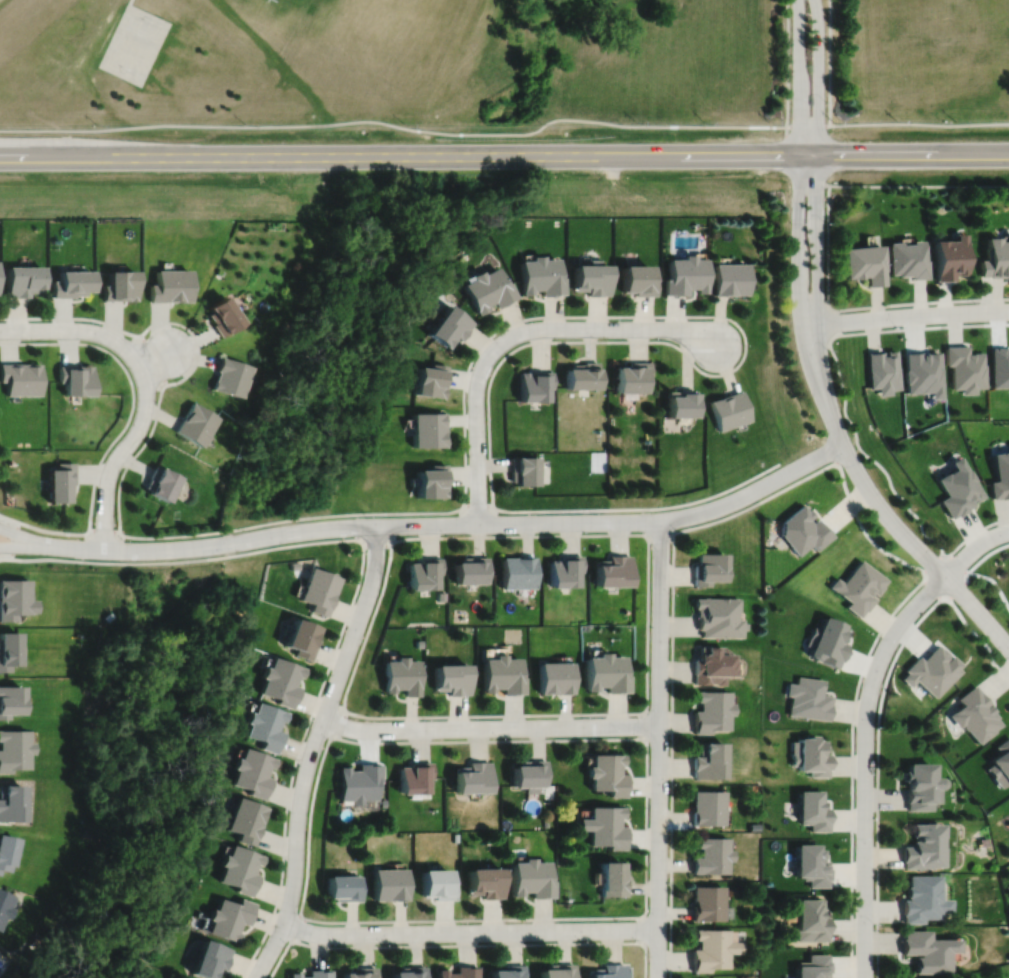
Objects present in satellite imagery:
road: (130, 1)
park: (320, 4)
park: (315, 8)
park: (134, 44)
road: (787, 62)
road: (829, 62)
park: (392, 63)
park: (919, 69)
road: (919, 123)
road: (394, 125)
road: (807, 125)
road: (504, 155)
road: (918, 185)
road: (818, 191)
road: (798, 193)
street lamp: (790, 217)
street lamp: (825, 221)
road: (828, 247)
building: (950, 257)
building: (907, 258)
building: (995, 258)
building: (865, 263)
building: (540, 275)
building: (685, 275)
building: (729, 278)
building: (589, 279)
building: (635, 280)
building: (24, 281)
building: (72, 283)
road: (864, 285)
building: (121, 286)
building: (171, 286)
building: (489, 288)
road: (919, 296)
road: (876, 300)
road: (918, 302)
street lamp: (975, 302)
road: (905, 315)
building: (223, 316)
street lamp: (612, 318)
street lamp: (525, 321)
street lamp: (93, 322)
building: (450, 323)
road: (830, 323)
street lamp: (898, 325)
road: (919, 326)
street lamp: (185, 330)
road: (88, 331)
road: (515, 335)
street lamp: (743, 344)
street lamp: (828, 349)
road: (151, 359)
street lamp: (126, 365)
building: (965, 369)
building: (884, 371)
building: (924, 373)
road: (719, 374)
building: (230, 376)
building: (582, 376)
building: (630, 377)
building: (430, 378)
building: (21, 379)
building: (76, 380)
building: (536, 384)
building: (681, 404)
road: (156, 406)
building: (729, 410)
building: (196, 422)
building: (428, 428)
road: (121, 430)
road: (125, 446)
street lamp: (467, 452)
road: (847, 454)
road: (870, 458)
street lamp: (843, 466)
building: (525, 469)
street lamp: (767, 473)
building: (1000, 476)
building: (431, 479)
building: (61, 480)
building: (159, 481)
building: (958, 488)
road: (477, 507)
street lamp: (592, 512)
street lamp: (367, 516)
road: (458, 524)
street lamp: (996, 525)
road: (896, 527)
road: (104, 528)
street lamp: (676, 529)
building: (803, 529)
road: (977, 531)
road: (865, 532)
street lamp: (447, 534)
road: (661, 534)
road: (29, 537)
road: (15, 539)
street lamp: (124, 539)
road: (378, 543)
road: (29, 546)
road: (973, 548)
street lamp: (222, 553)
street lamp: (938, 554)
road: (986, 554)
road: (933, 563)
road: (959, 563)
building: (295, 565)
building: (708, 567)
building: (472, 569)
building: (566, 569)
building: (613, 570)
building: (519, 571)
building: (425, 572)
street lamp: (384, 574)
road: (994, 583)
building: (858, 586)
road: (358, 587)
road: (961, 587)
road: (933, 588)
building: (319, 589)
street lamp: (670, 593)
building: (442, 596)
building: (15, 597)
building: (718, 616)
road: (979, 636)
building: (301, 637)
street lamp: (880, 637)
building: (827, 641)
building: (9, 648)
road: (362, 648)
street lamp: (1003, 656)
road: (672, 665)
building: (712, 665)
building: (932, 670)
building: (607, 672)
street lamp: (330, 673)
building: (503, 674)
building: (402, 675)
building: (556, 676)
building: (453, 678)
building: (281, 680)
building: (807, 698)
building: (11, 699)
street lamp: (649, 709)
building: (711, 711)
building: (976, 714)
street lamp: (583, 716)
street lamp: (426, 719)
road: (339, 721)
building: (265, 725)
street lamp: (875, 726)
road: (491, 728)
street lamp: (500, 737)
street lamp: (328, 738)
building: (14, 749)
road: (659, 749)
road: (313, 751)
road: (646, 755)
building: (809, 756)
building: (708, 760)
road: (865, 764)
building: (1001, 764)
road: (853, 767)
building: (252, 772)
building: (609, 774)
building: (531, 775)
building: (415, 777)
building: (474, 777)
road: (877, 778)
building: (359, 782)
street lamp: (669, 783)
building: (920, 786)
building: (11, 802)
building: (383, 802)
building: (707, 807)
building: (812, 810)
street lamp: (289, 812)
building: (245, 820)
building: (607, 826)
street lamp: (855, 837)
road: (309, 839)
building: (984, 842)
building: (924, 847)
building: (6, 852)
building: (711, 856)
building: (811, 865)
building: (240, 869)
building: (533, 878)
building: (614, 879)
building: (487, 882)
building: (391, 884)
building: (438, 885)
building: (344, 888)
building: (922, 900)
building: (707, 904)
building: (4, 905)
street lamp: (648, 912)
building: (229, 918)
building: (811, 921)
street lamp: (462, 922)
street lamp: (875, 924)
road: (298, 928)
road: (470, 932)
street lamp: (581, 940)
street lamp: (287, 942)
street lamp: (383, 943)
road: (447, 945)
building: (711, 950)
building: (928, 952)
building: (211, 960)
building: (813, 967)
building: (560, 971)
building: (609, 971)
building: (510, 972)
building: (361, 973)
building: (411, 973)
building: (461, 973)
building: (314, 974)

